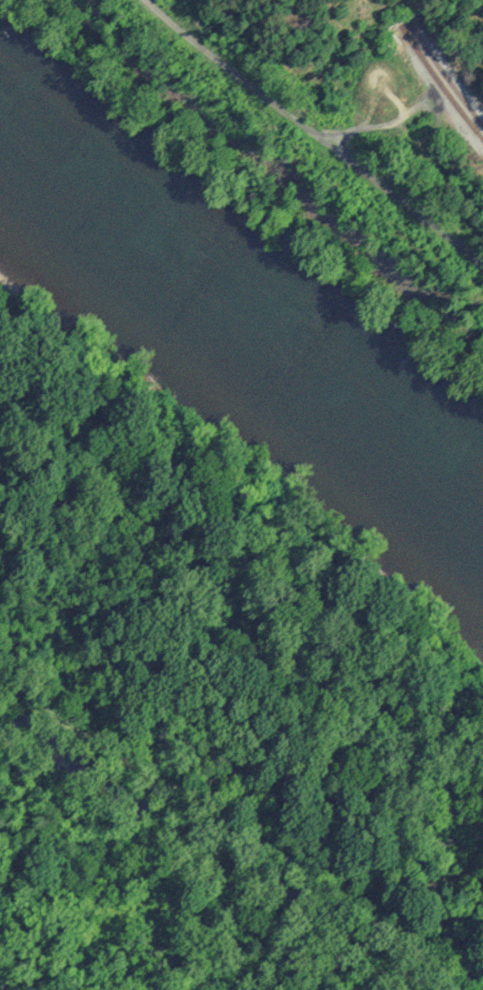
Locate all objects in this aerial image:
railway: (446, 76)
railway: (442, 86)
road: (313, 135)
river: (241, 325)
road: (234, 830)

